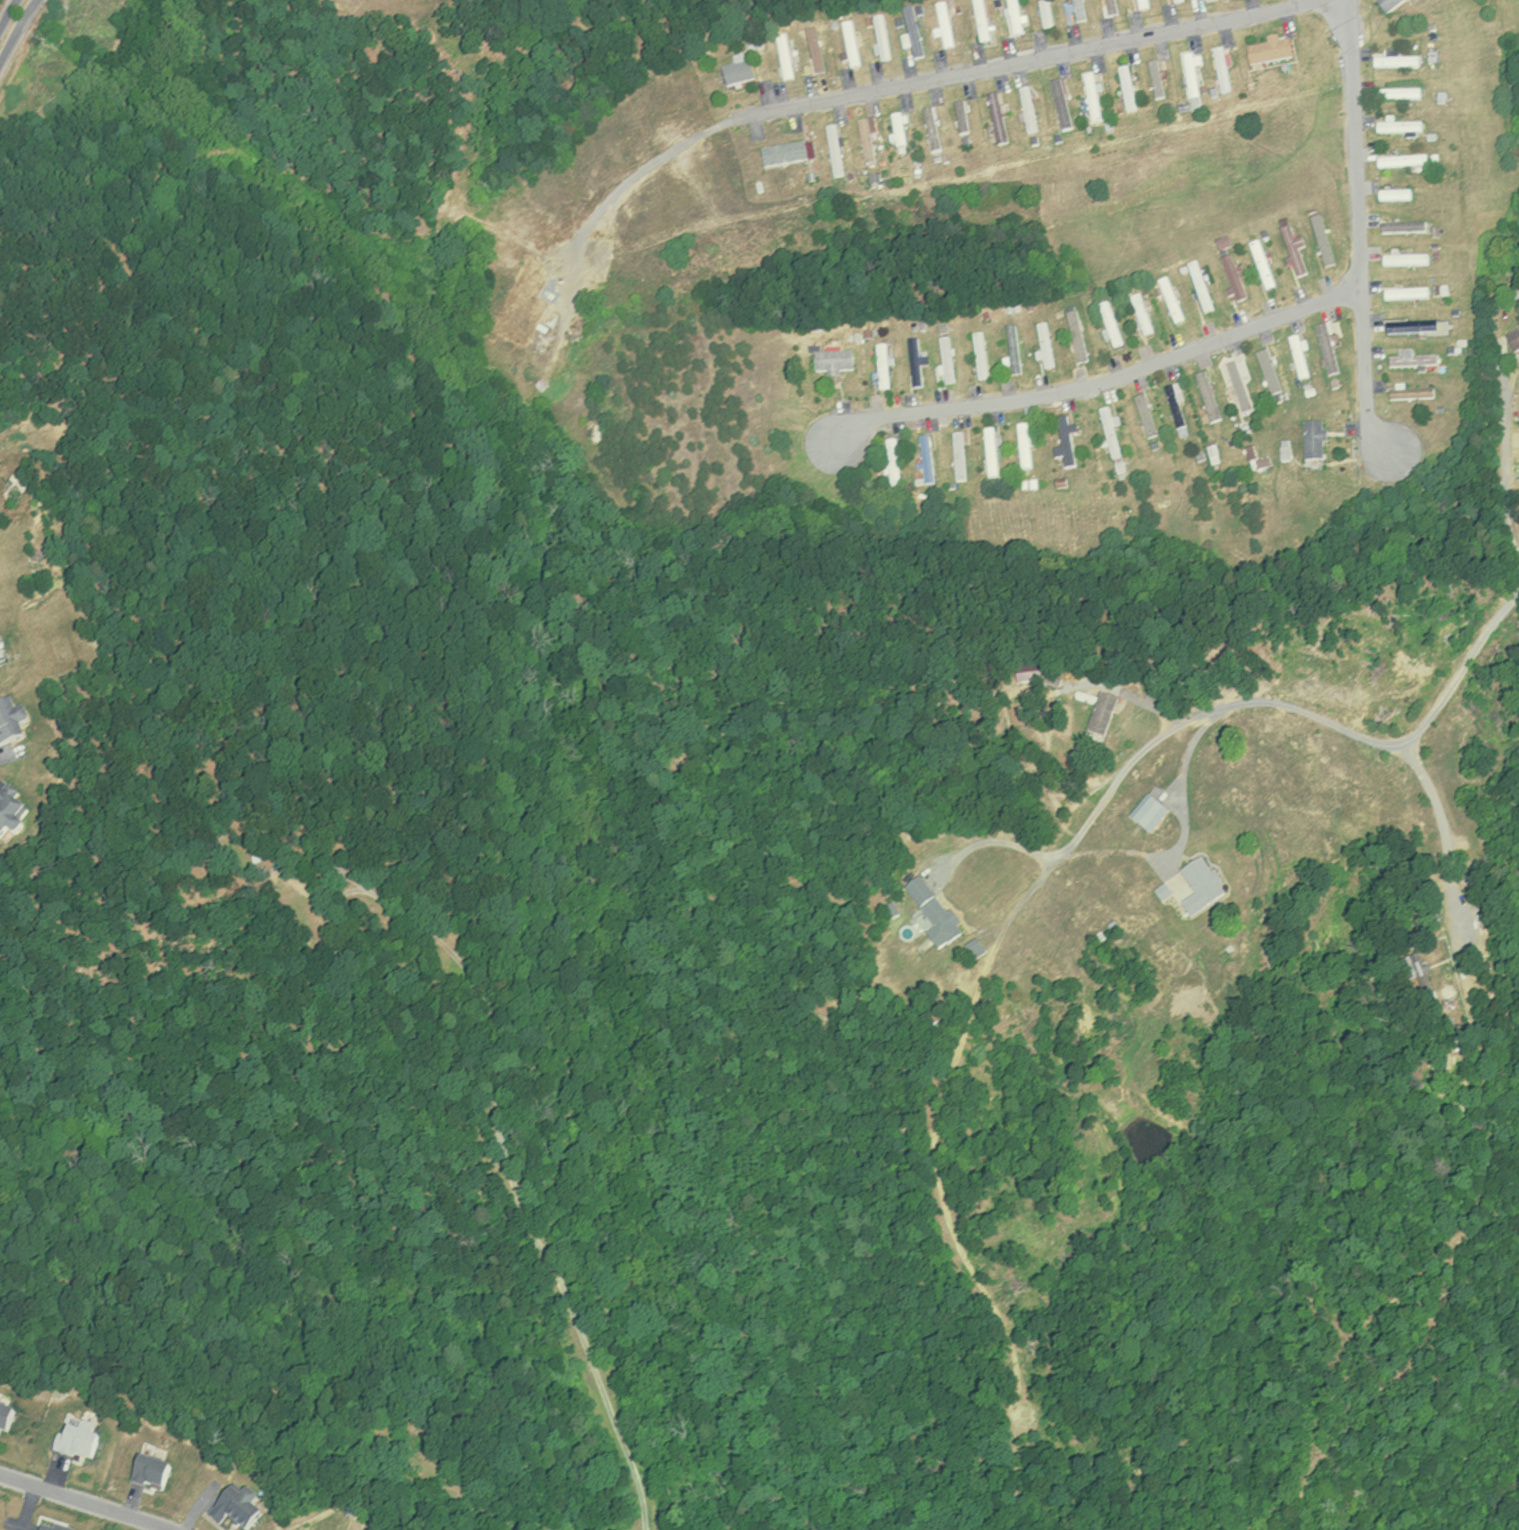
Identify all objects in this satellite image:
road: (15, 25)
road: (1027, 60)
road: (1359, 225)
road: (1101, 380)
road: (1505, 448)
road: (1186, 803)
road: (1103, 817)
road: (1444, 834)
road: (1003, 846)
road: (86, 1501)

